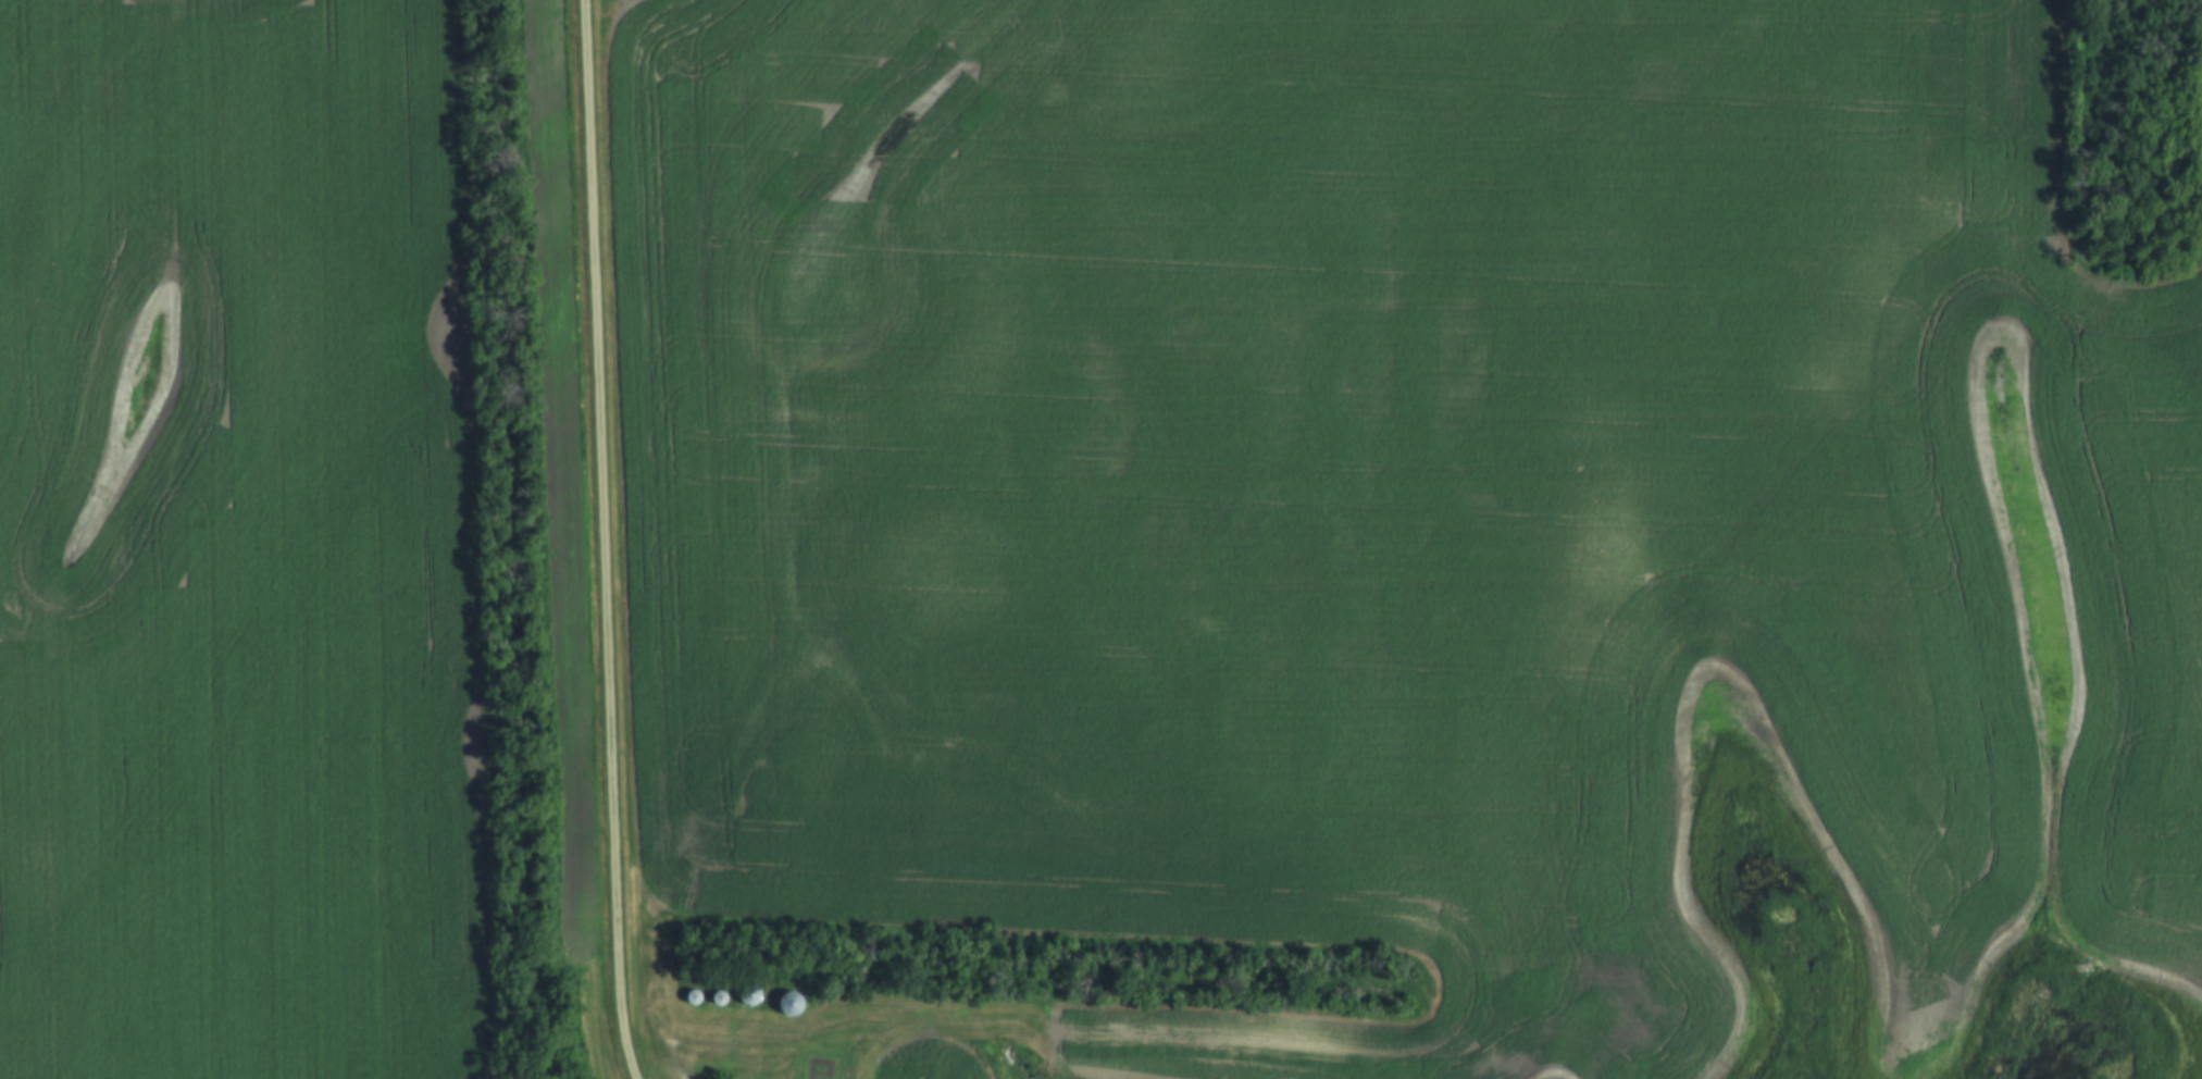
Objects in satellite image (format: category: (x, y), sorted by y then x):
road: (608, 539)
building: (786, 1004)

